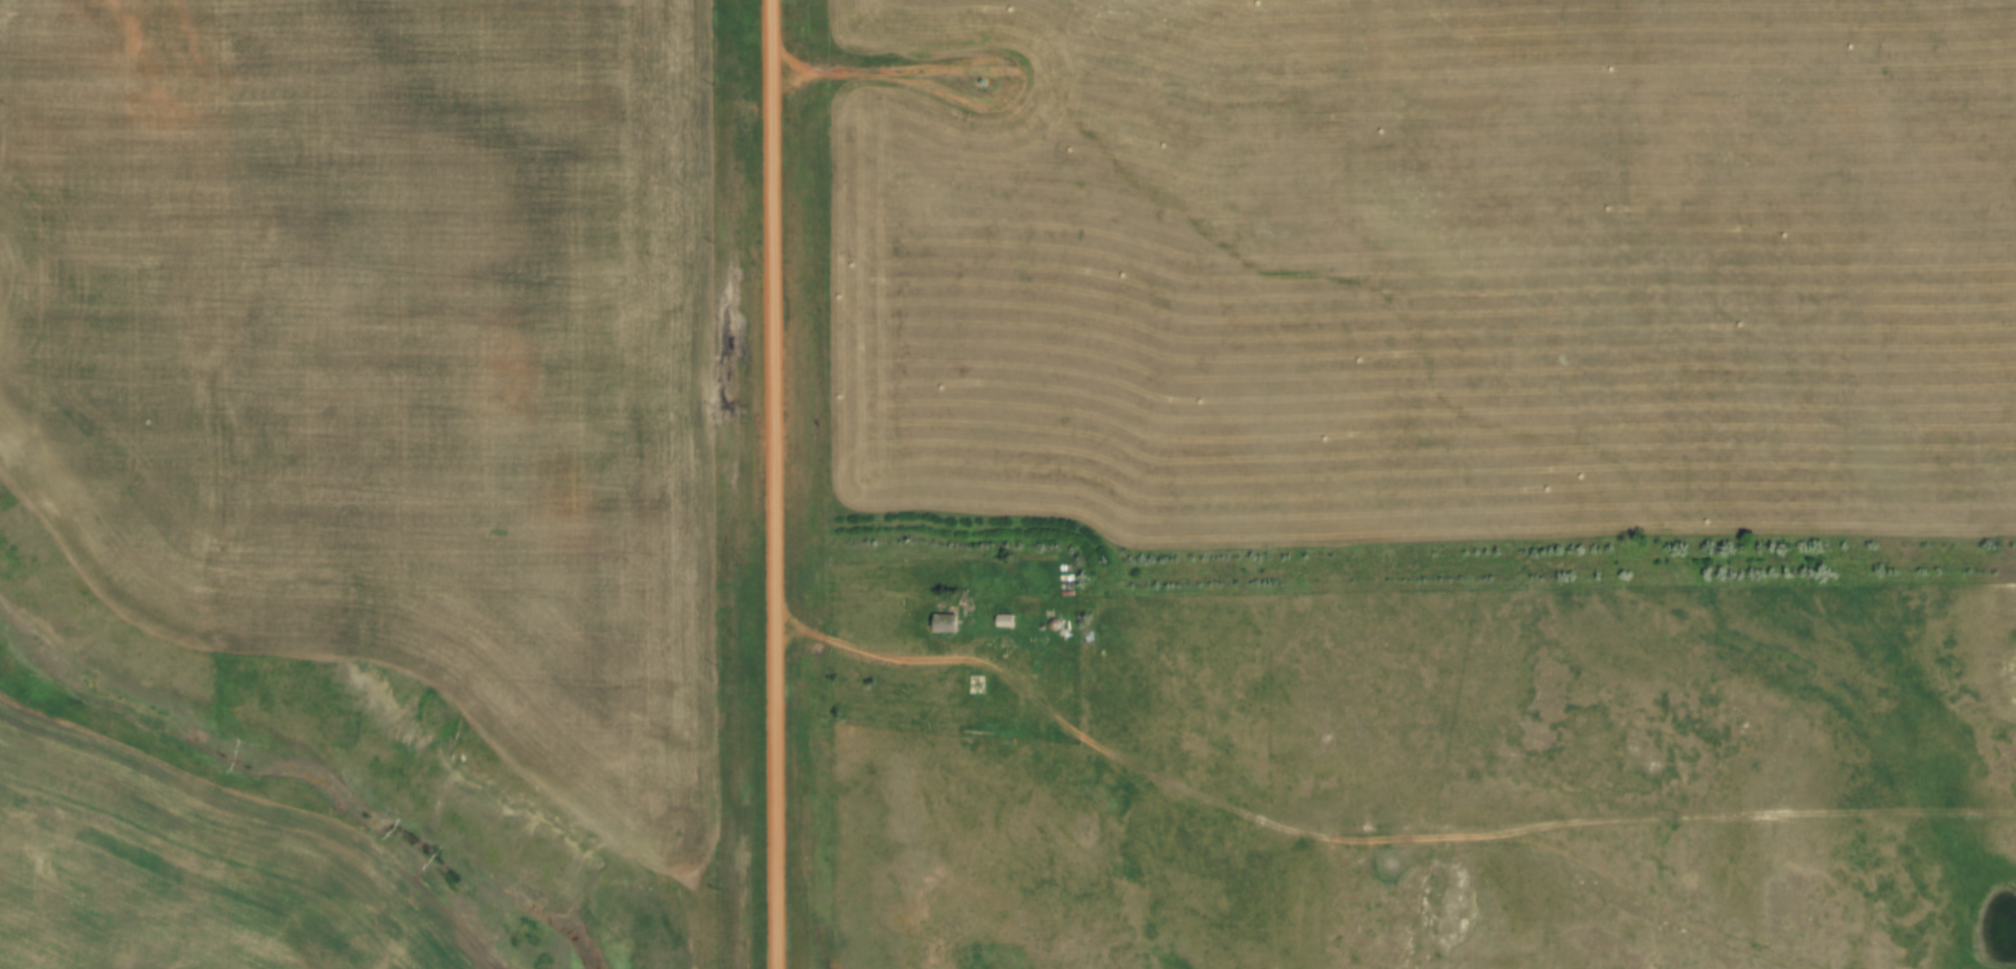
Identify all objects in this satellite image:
road: (788, 55)
road: (856, 72)
road: (775, 484)
building: (1010, 621)
building: (950, 622)
road: (897, 661)
road: (1642, 822)
road: (1409, 840)

